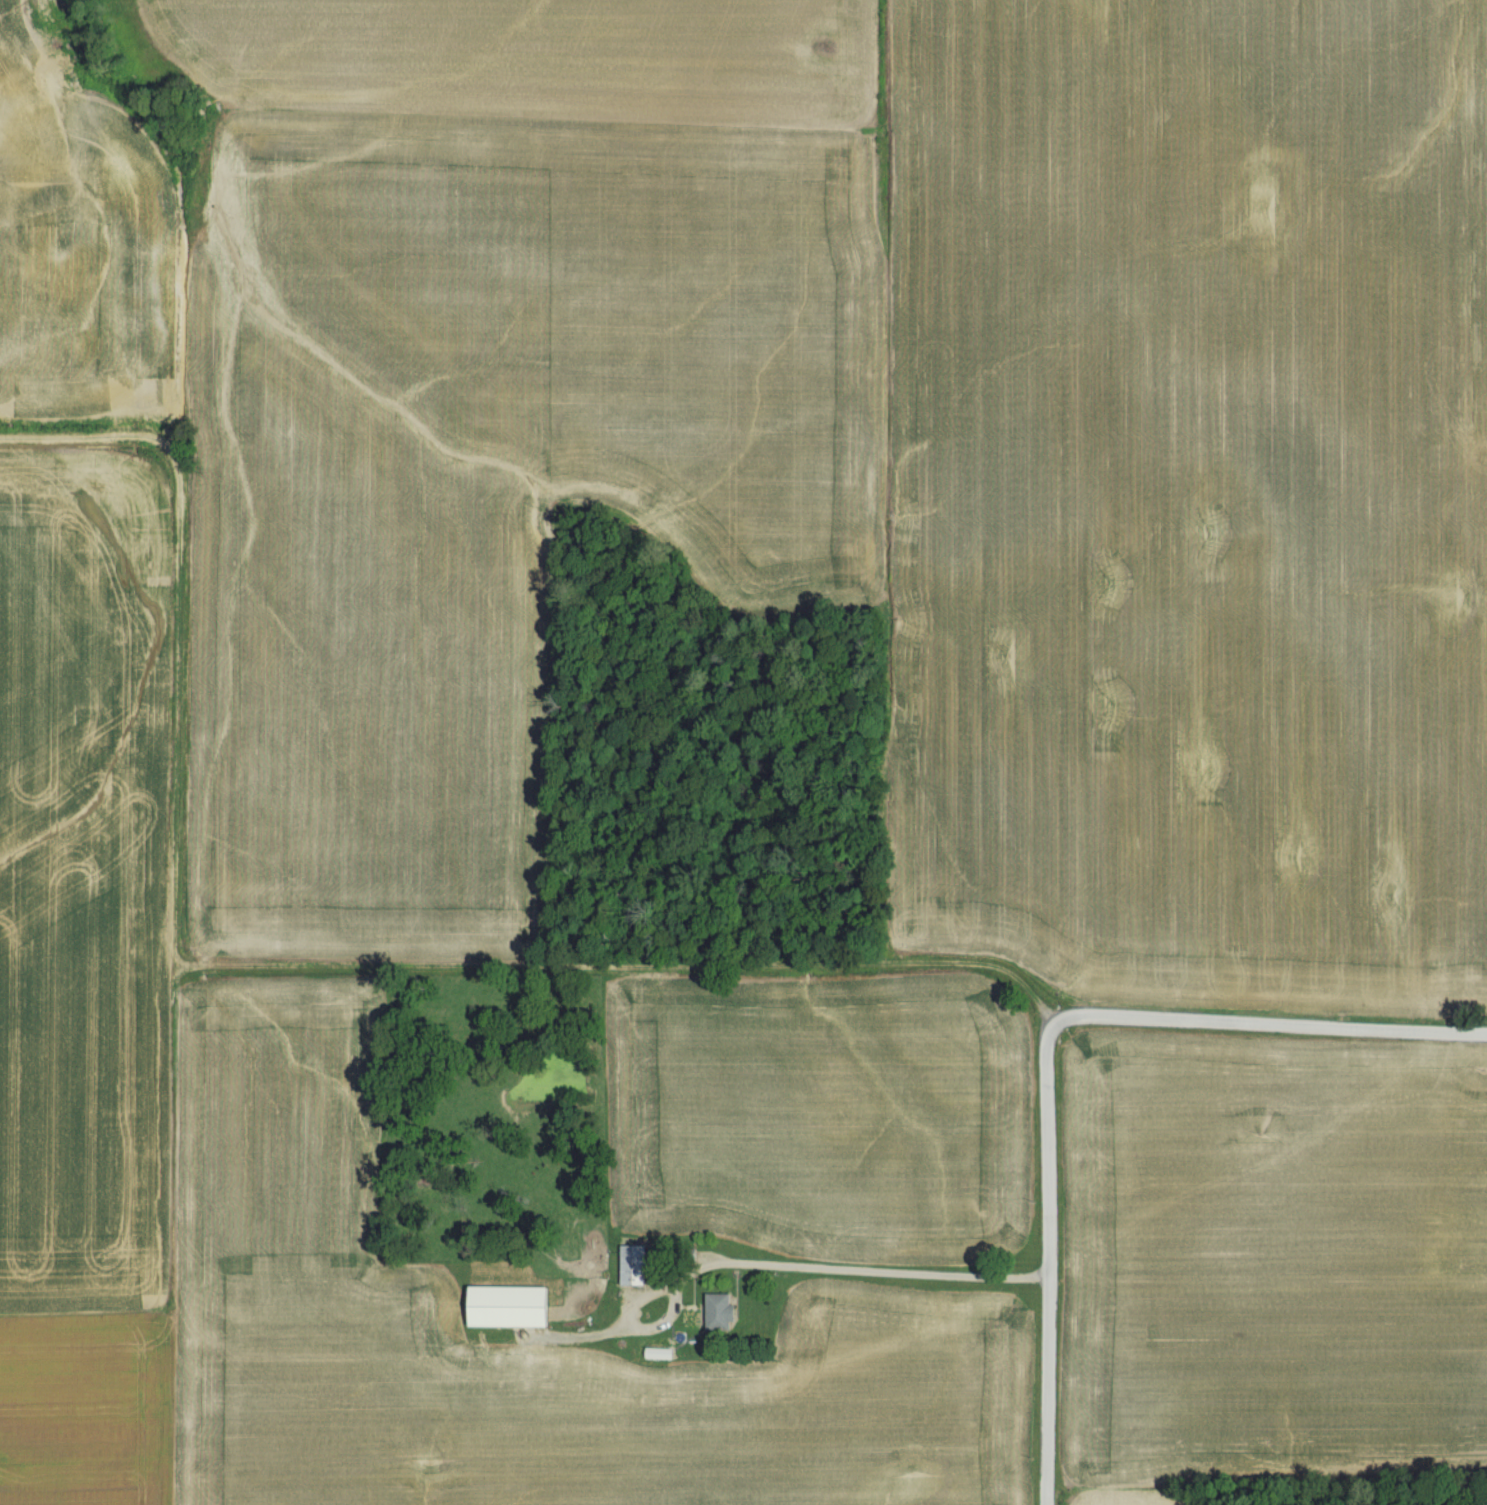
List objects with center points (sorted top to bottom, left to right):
road: (872, 482)
road: (288, 966)
road: (1270, 1026)
road: (1047, 1261)
building: (632, 1267)
road: (881, 1272)
building: (718, 1312)
building: (566, 1313)

